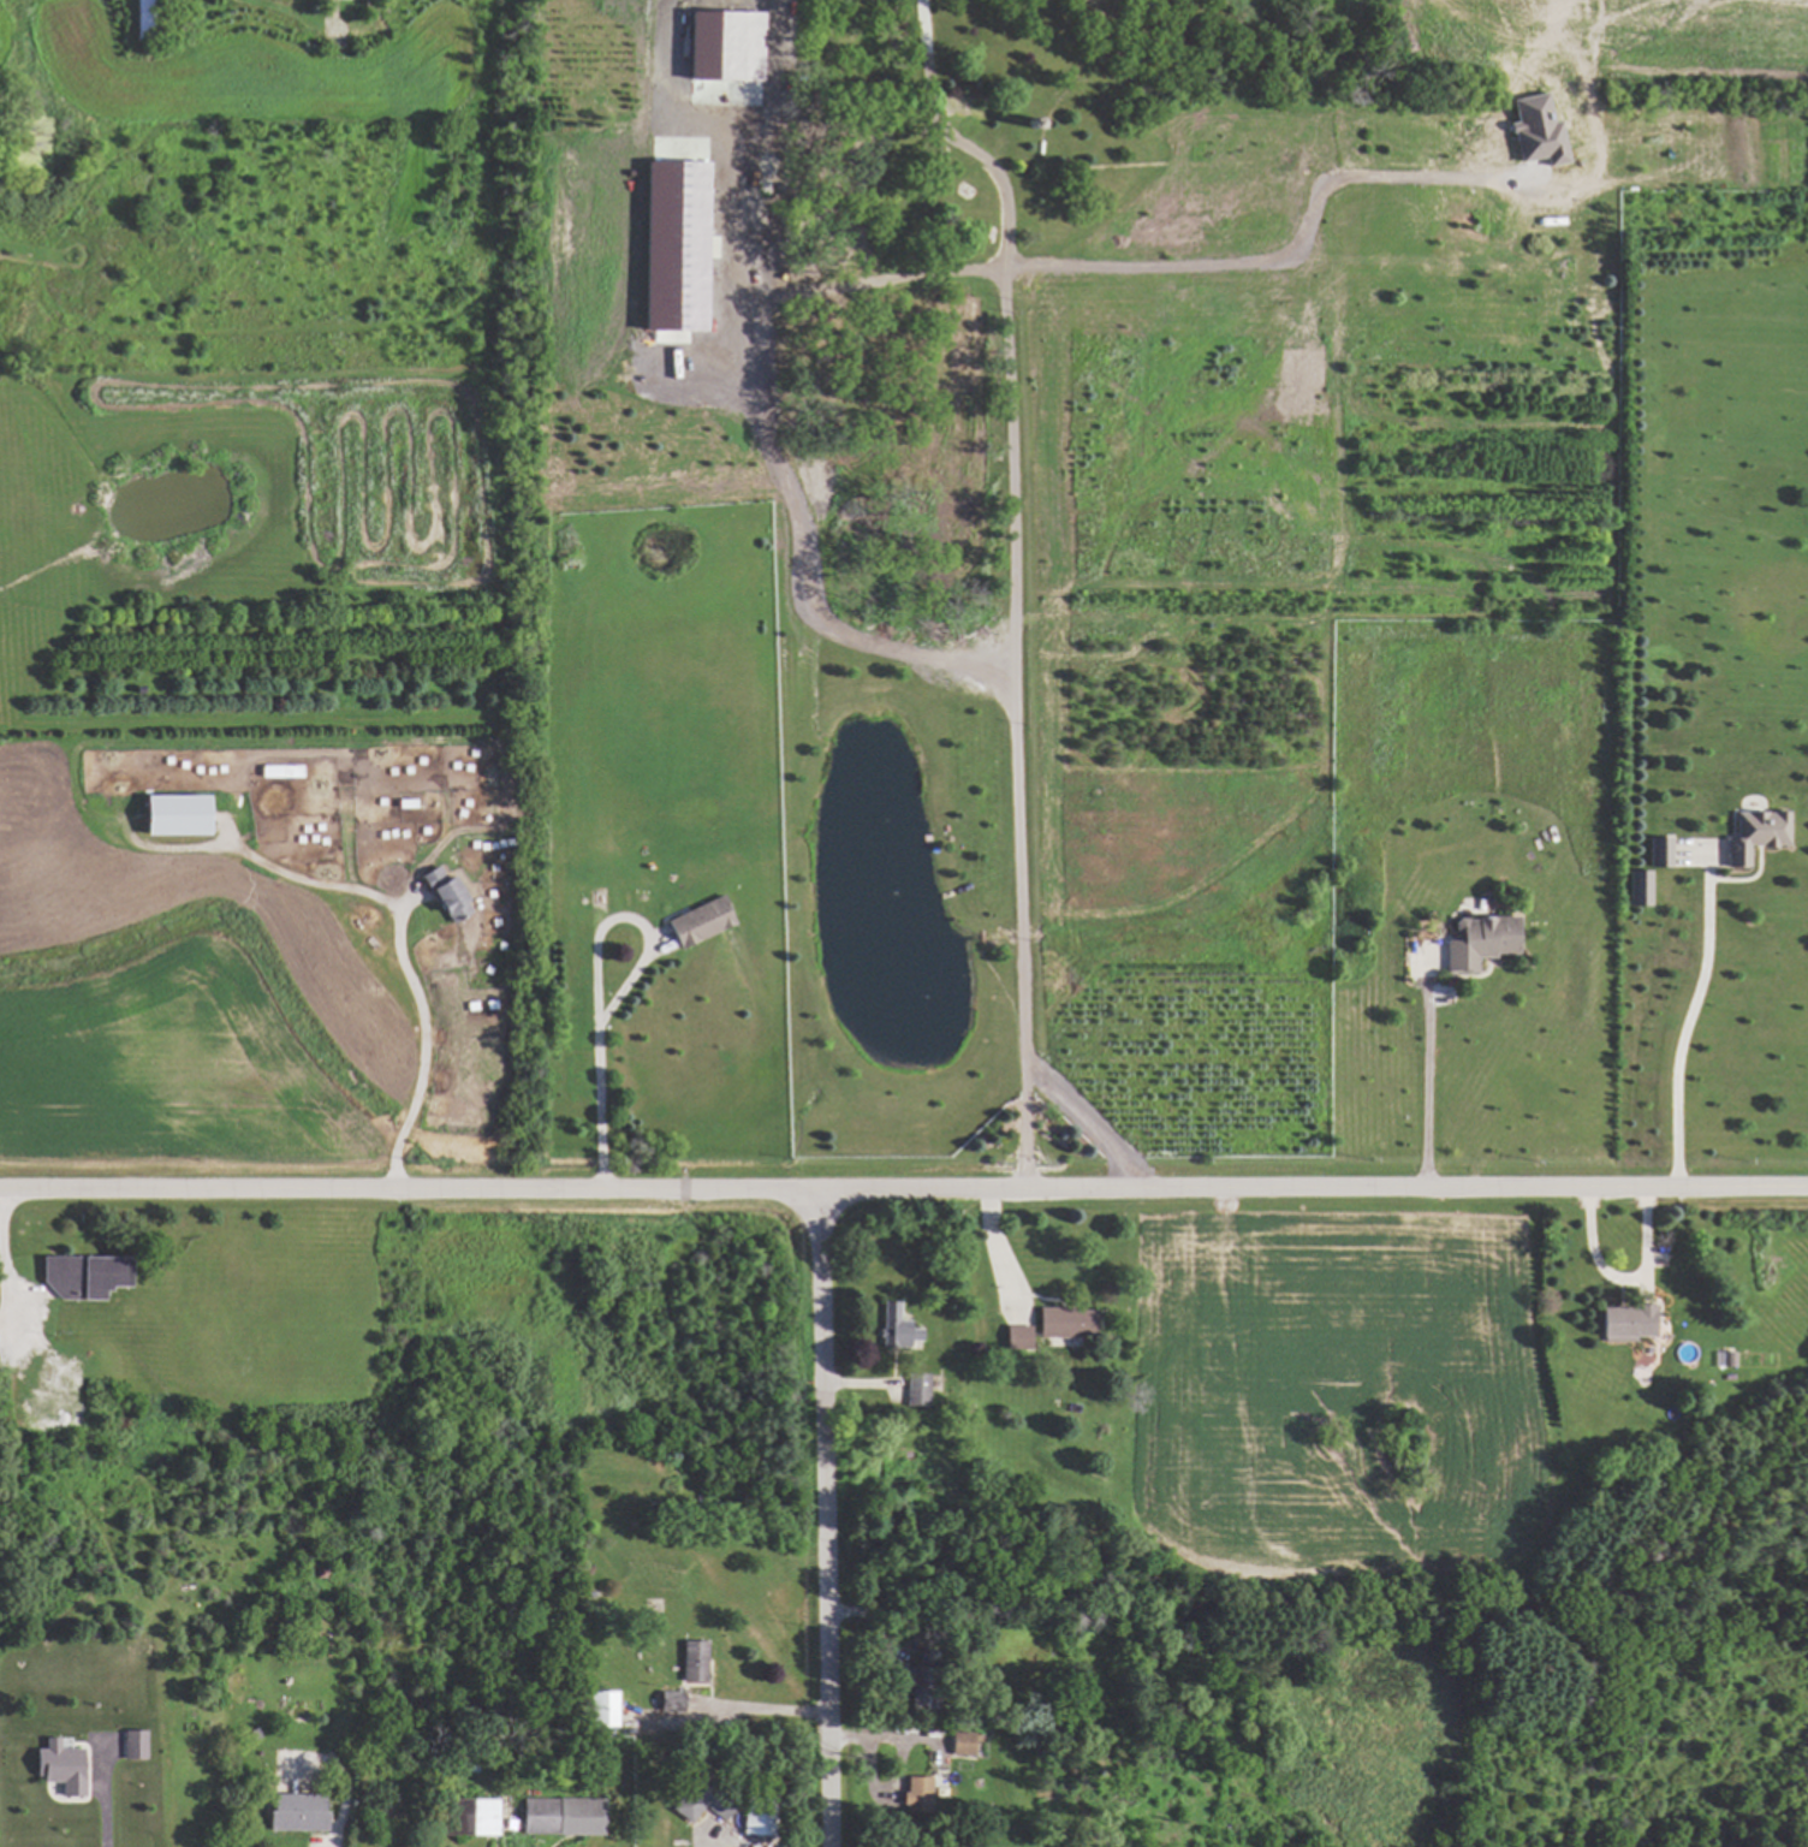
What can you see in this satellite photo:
building: (144, 17)
building: (721, 47)
building: (1533, 132)
building: (708, 178)
building: (670, 248)
road: (1286, 257)
road: (766, 440)
road: (1013, 577)
building: (278, 772)
building: (172, 816)
building: (1753, 835)
building: (1661, 851)
building: (444, 895)
building: (696, 921)
building: (1476, 942)
road: (400, 949)
road: (1689, 1021)
road: (593, 1057)
road: (1427, 1088)
road: (1088, 1118)
road: (903, 1187)
building: (81, 1276)
park: (248, 1299)
building: (1624, 1322)
building: (1063, 1323)
building: (893, 1328)
road: (2, 1335)
building: (1015, 1337)
parking lot: (35, 1367)
building: (915, 1391)
road: (823, 1516)
building: (691, 1661)
building: (668, 1702)
building: (602, 1709)
road: (888, 1738)
building: (959, 1744)
building: (132, 1745)
building: (56, 1766)
building: (914, 1794)
road: (103, 1798)
building: (684, 1806)
building: (293, 1812)
building: (469, 1817)
building: (558, 1817)
building: (754, 1817)

